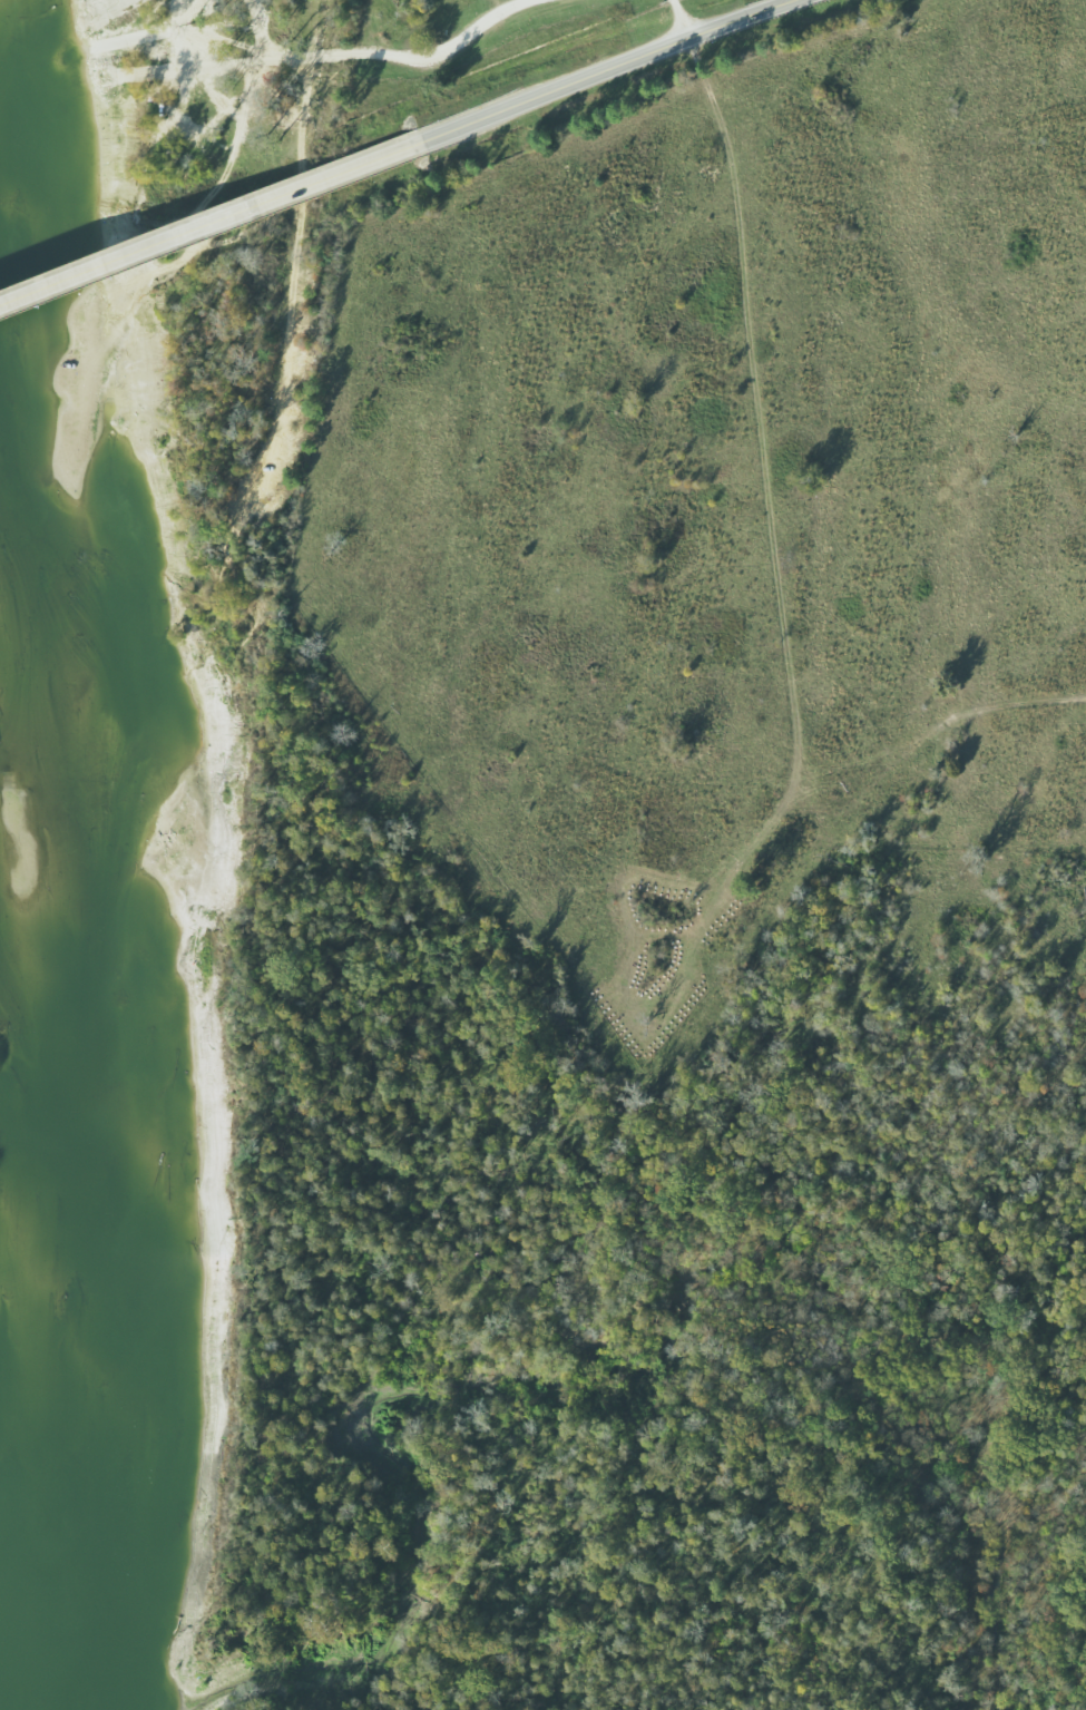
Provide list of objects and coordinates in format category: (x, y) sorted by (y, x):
road: (615, 68)
road: (212, 223)
river: (53, 1072)

